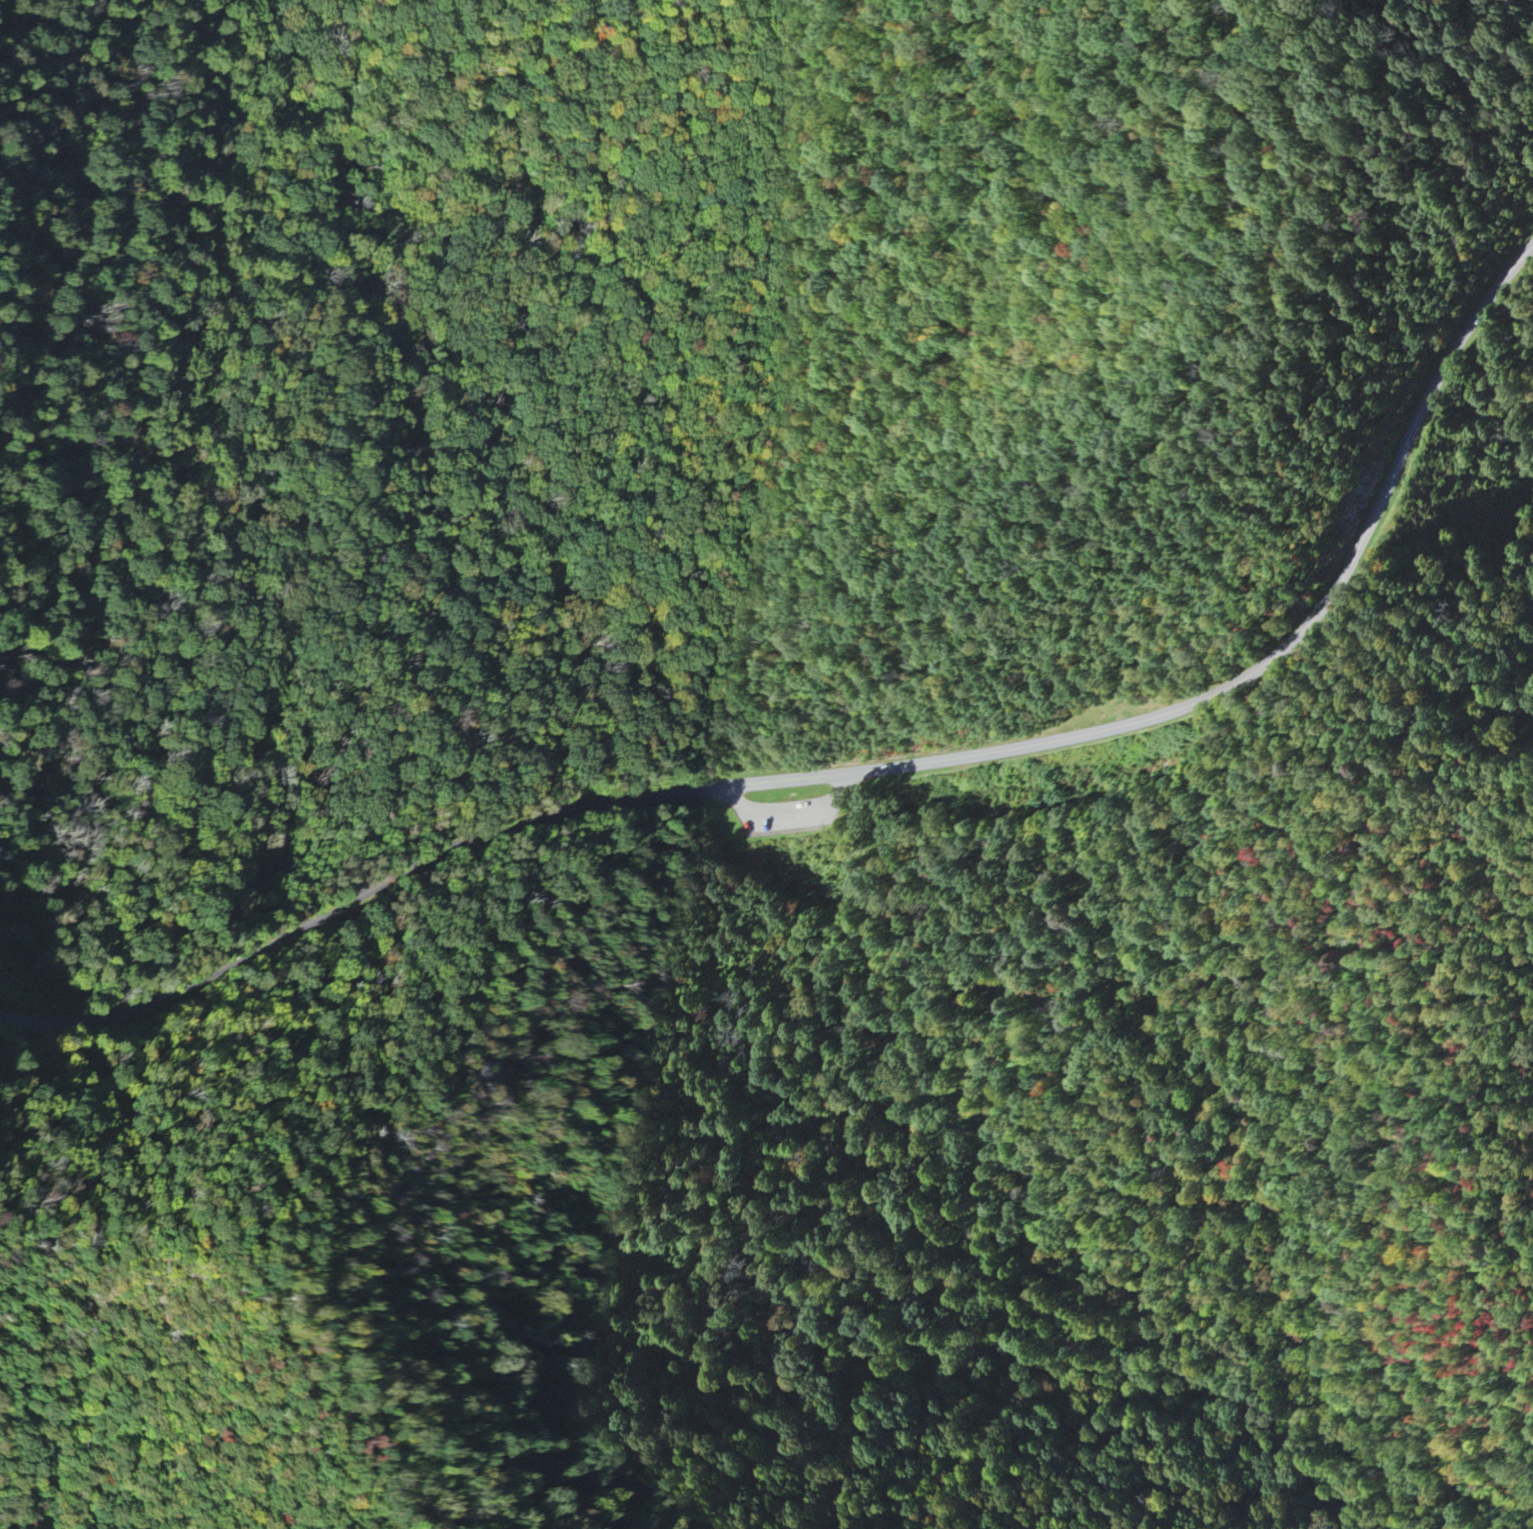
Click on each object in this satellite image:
road: (1442, 33)
road: (1193, 703)
road: (788, 751)
parking lot: (798, 813)
road: (802, 818)
road: (306, 922)
road: (137, 1427)

